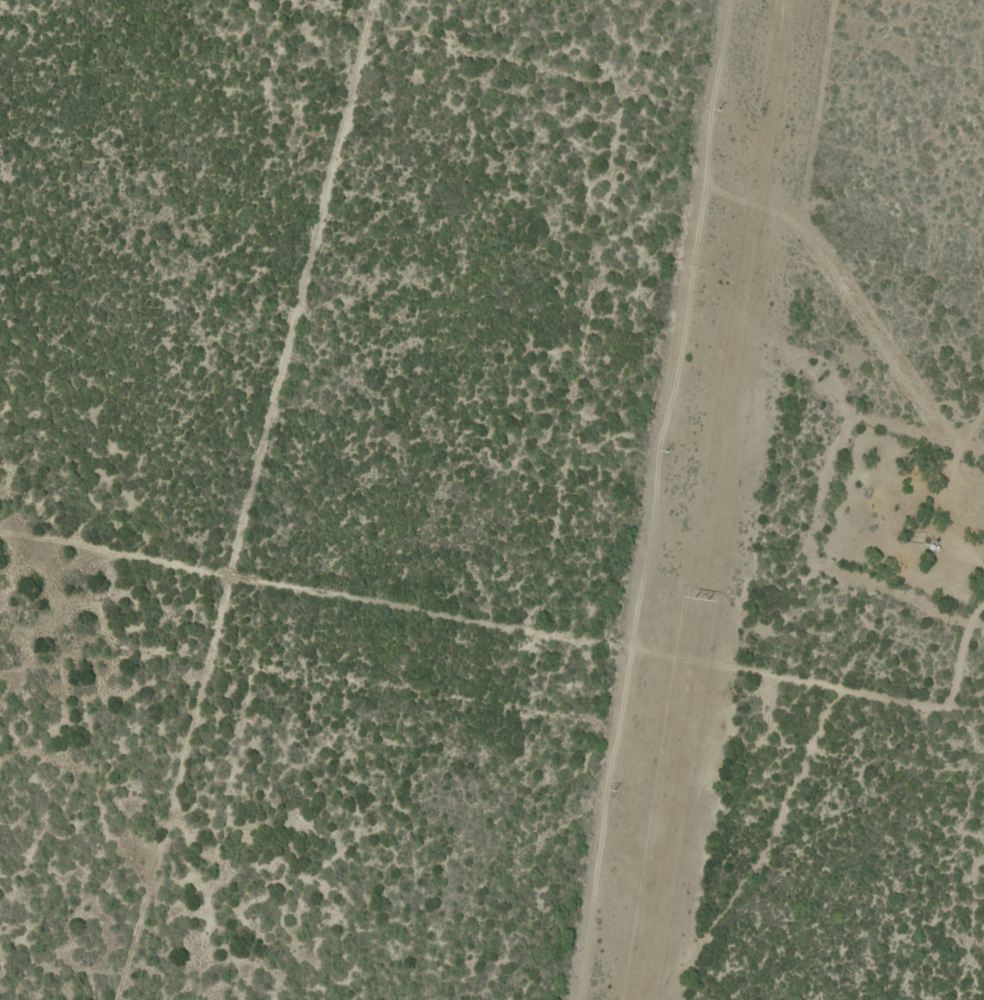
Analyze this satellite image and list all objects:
road: (826, 272)
power tower: (699, 600)

